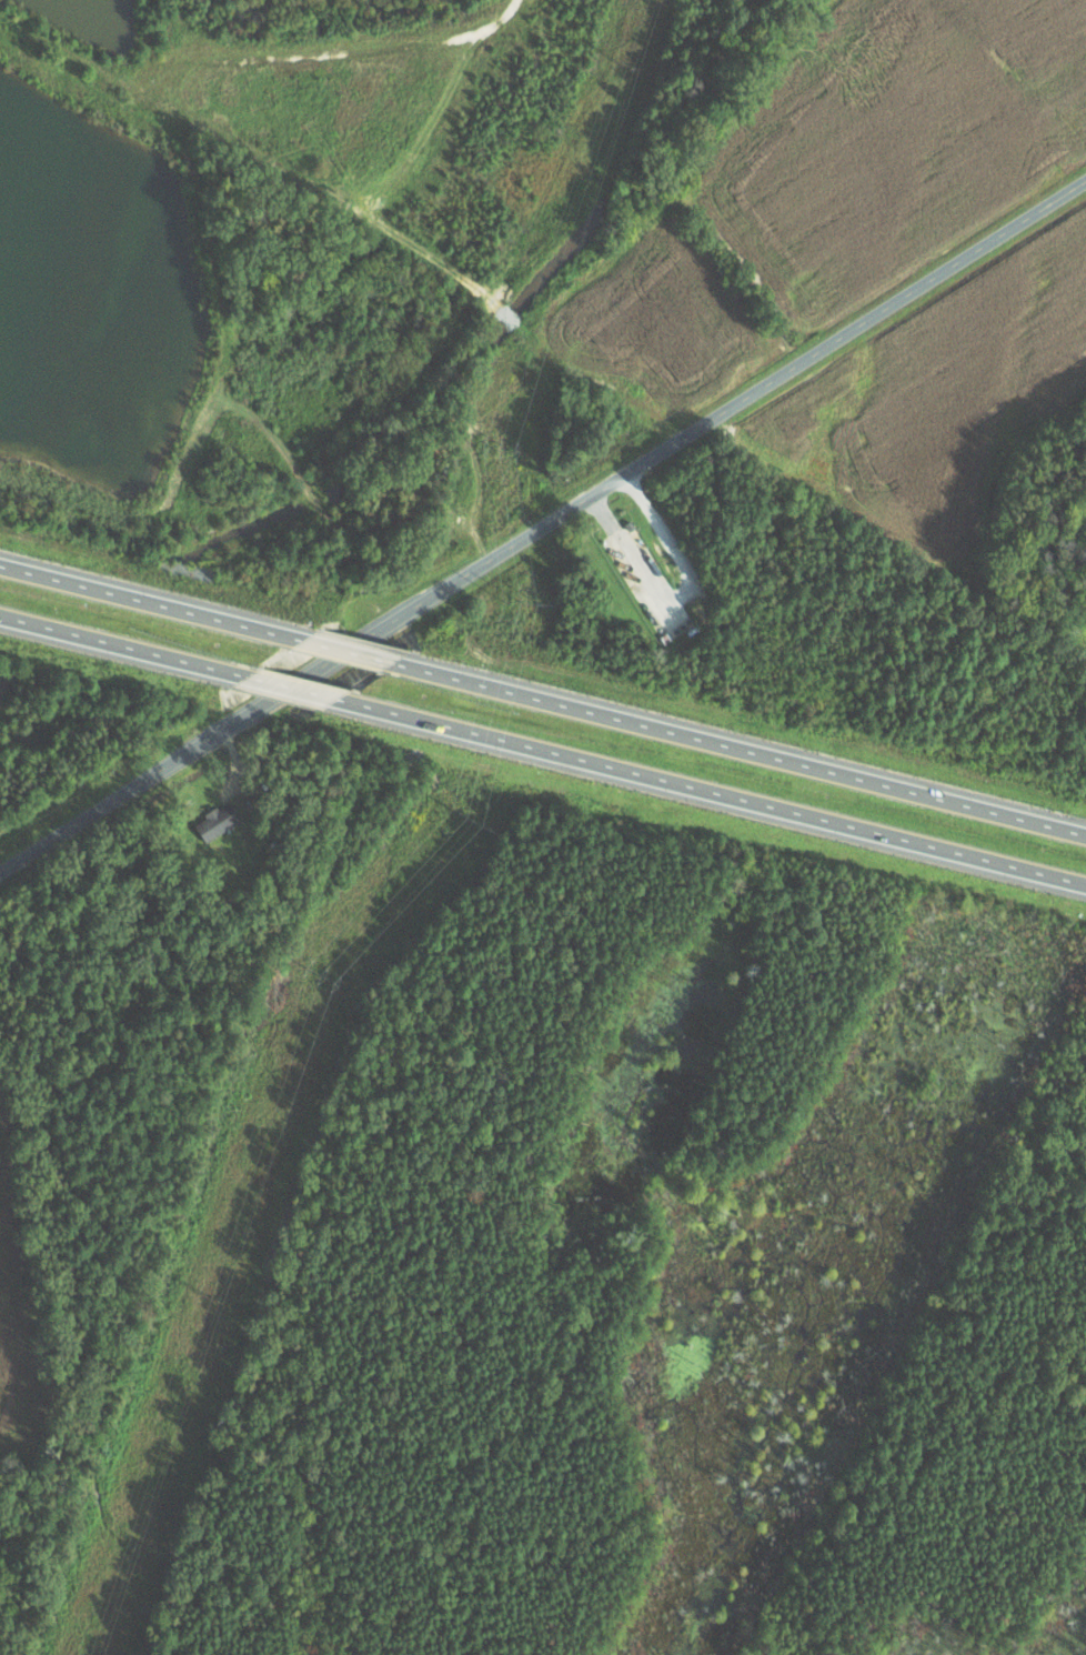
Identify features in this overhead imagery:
power tower: (621, 64)
road: (700, 423)
power tower: (495, 451)
road: (151, 602)
road: (123, 645)
road: (346, 651)
road: (290, 686)
road: (738, 748)
road: (157, 770)
road: (710, 790)
power tower: (467, 819)
building: (223, 821)
power tower: (315, 976)
power tower: (205, 1302)

